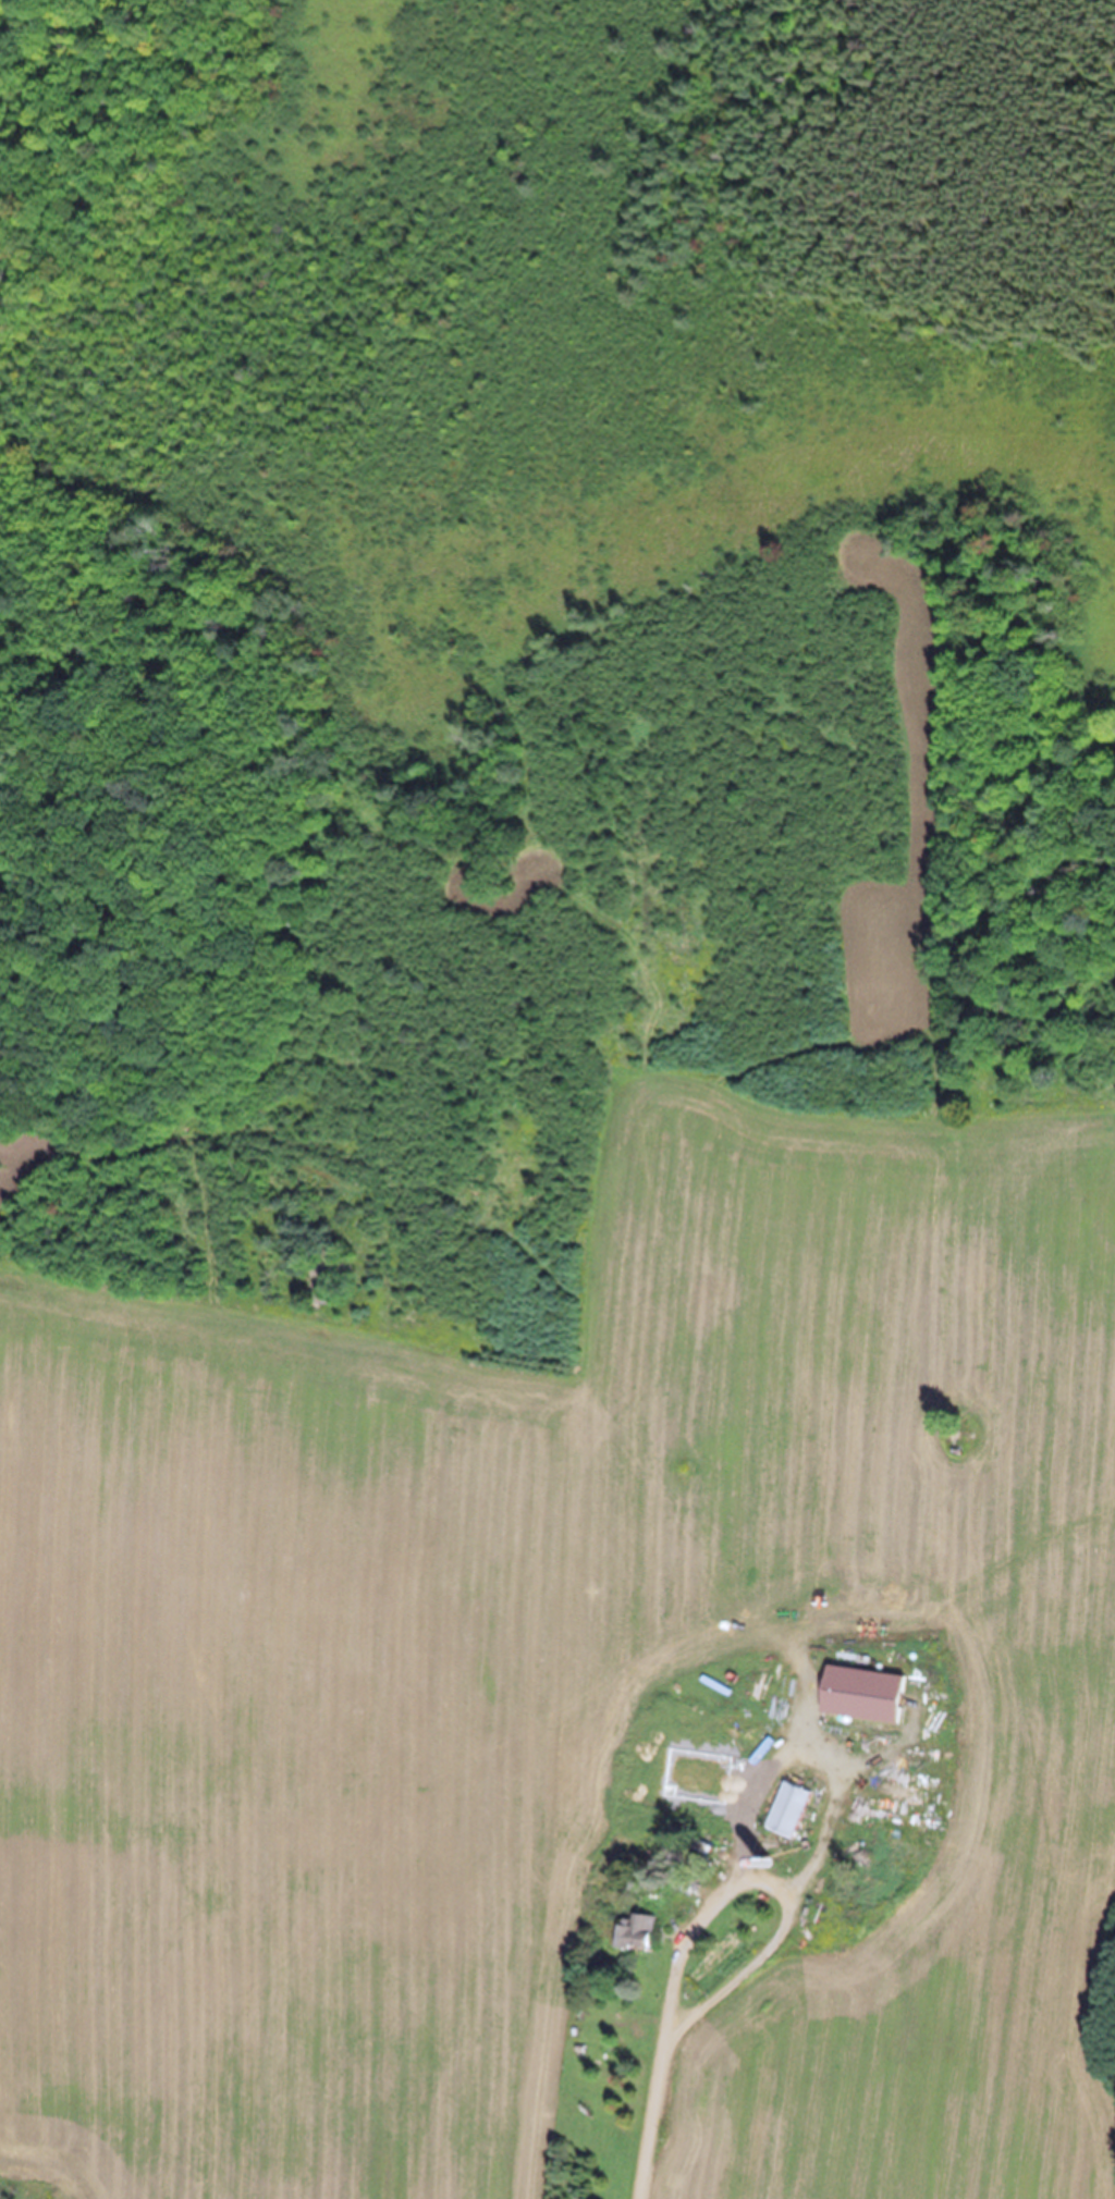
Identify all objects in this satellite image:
building: (779, 1705)
building: (786, 1807)
building: (635, 1931)

